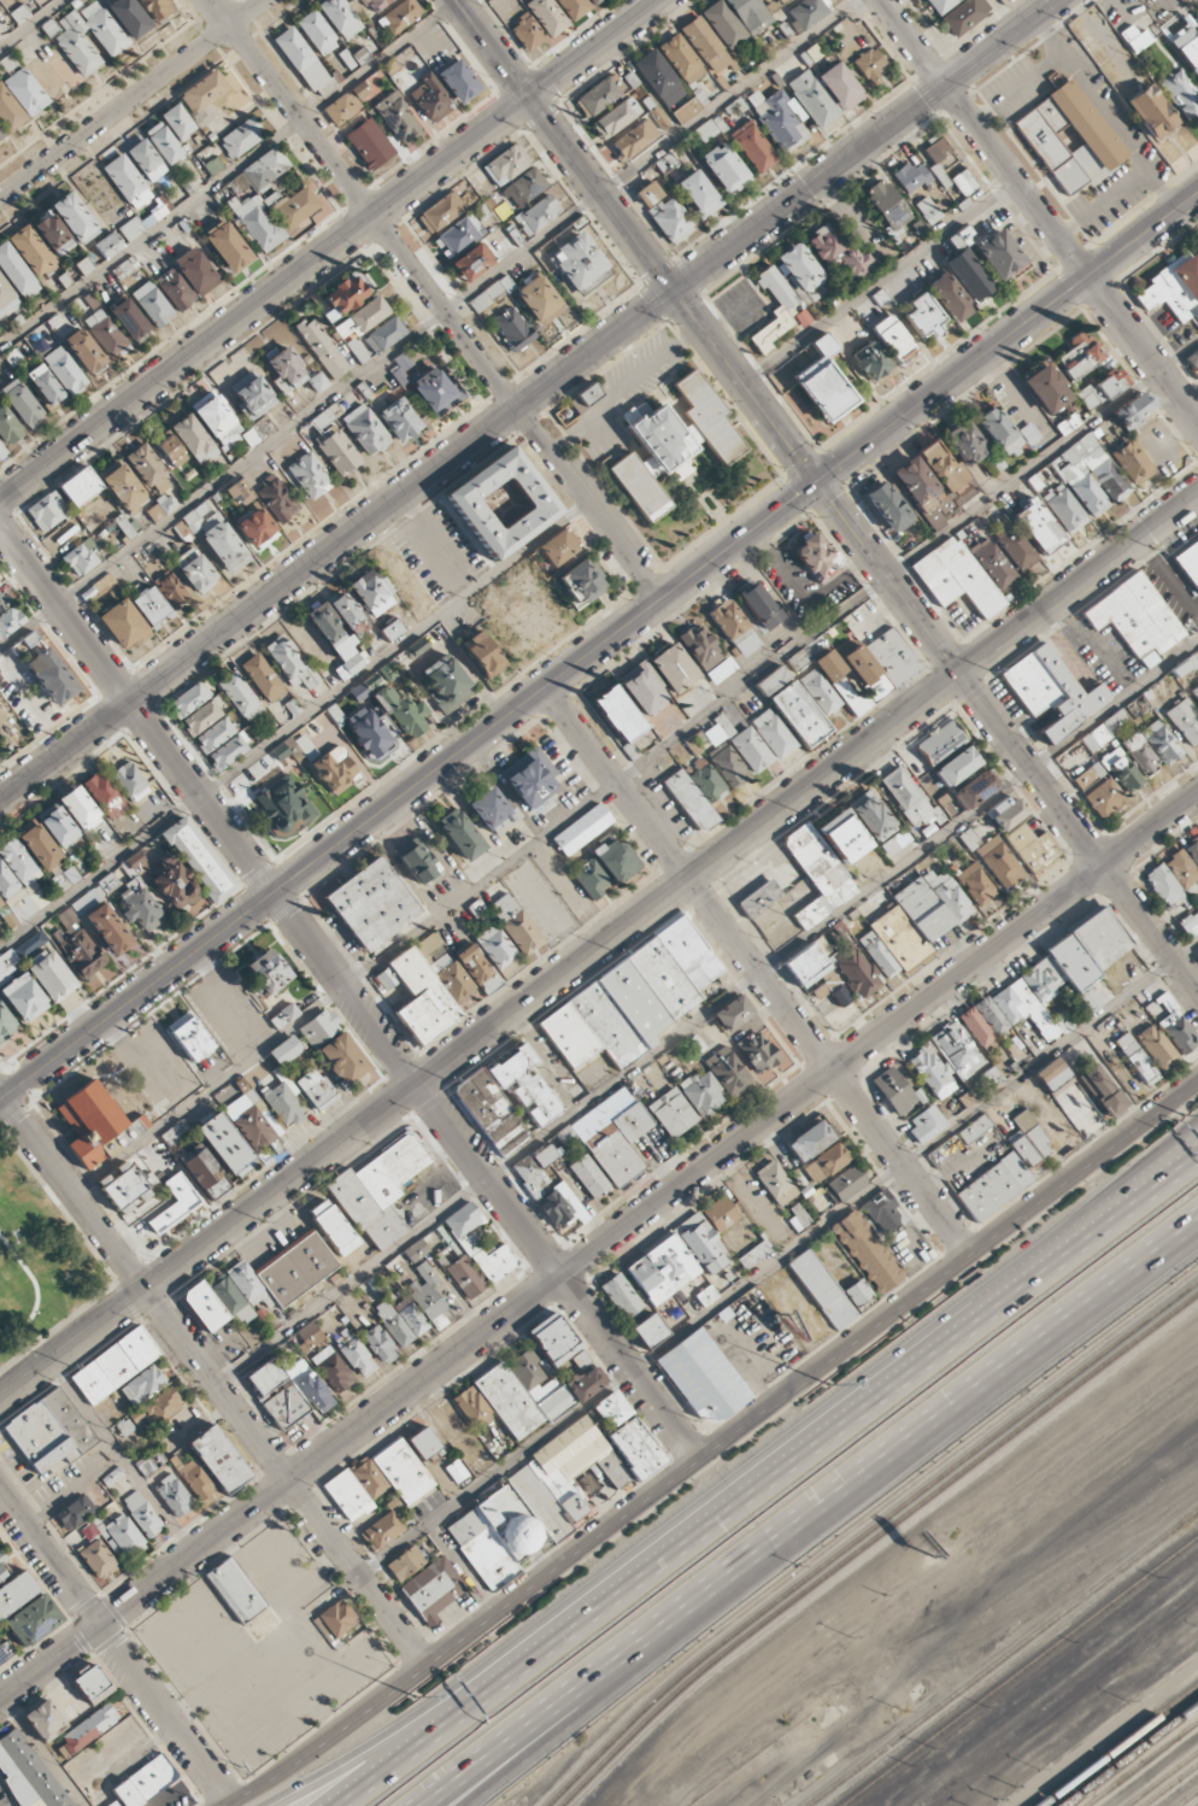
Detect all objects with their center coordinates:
building: (351, 0)
building: (785, 0)
building: (594, 1)
building: (375, 4)
building: (940, 5)
building: (574, 7)
building: (155, 8)
building: (809, 11)
building: (19, 13)
building: (748, 14)
building: (546, 16)
building: (964, 16)
building: (127, 17)
building: (340, 17)
building: (399, 17)
road: (31, 24)
building: (723, 24)
building: (49, 28)
building: (101, 28)
building: (317, 33)
building: (527, 33)
building: (1134, 39)
building: (75, 45)
building: (705, 45)
building: (1187, 45)
road: (494, 49)
building: (811, 53)
building: (360, 55)
building: (300, 58)
building: (681, 58)
building: (870, 63)
building: (659, 78)
building: (458, 81)
building: (840, 86)
building: (202, 92)
building: (1180, 93)
building: (600, 94)
building: (18, 98)
road: (131, 99)
building: (430, 99)
building: (812, 99)
building: (342, 109)
building: (686, 110)
building: (1151, 112)
building: (397, 118)
building: (616, 118)
building: (658, 118)
building: (779, 118)
building: (177, 122)
building: (709, 129)
building: (1, 135)
building: (240, 137)
building: (1069, 137)
building: (634, 139)
building: (369, 141)
building: (163, 142)
building: (753, 147)
building: (936, 149)
building: (146, 160)
building: (665, 163)
building: (506, 164)
building: (265, 169)
building: (724, 169)
road: (229, 174)
building: (911, 177)
building: (127, 181)
building: (963, 182)
building: (524, 187)
building: (647, 193)
building: (698, 193)
building: (888, 206)
building: (927, 210)
building: (299, 211)
building: (441, 211)
road: (1039, 211)
building: (538, 215)
building: (74, 217)
building: (145, 219)
building: (670, 219)
building: (256, 223)
building: (52, 233)
building: (458, 235)
building: (961, 238)
building: (108, 245)
building: (227, 246)
building: (31, 250)
road: (330, 250)
building: (838, 251)
building: (1196, 251)
building: (999, 254)
building: (471, 263)
building: (580, 263)
building: (84, 265)
building: (125, 268)
building: (798, 268)
building: (17, 271)
building: (195, 271)
building: (968, 274)
road: (880, 282)
building: (1174, 288)
building: (175, 289)
building: (491, 293)
building: (346, 294)
building: (949, 297)
building: (6, 298)
road: (436, 299)
building: (539, 299)
building: (152, 304)
building: (774, 309)
building: (923, 316)
building: (801, 317)
building: (363, 318)
building: (129, 319)
road: (429, 324)
building: (513, 329)
building: (105, 334)
building: (383, 335)
building: (892, 338)
building: (321, 347)
building: (84, 352)
building: (1079, 354)
building: (870, 360)
building: (1193, 360)
building: (400, 367)
building: (286, 369)
building: (64, 370)
building: (317, 382)
building: (823, 382)
building: (45, 386)
building: (1045, 388)
building: (1102, 389)
building: (436, 391)
building: (251, 394)
building: (588, 394)
road: (528, 400)
building: (22, 403)
building: (1133, 410)
building: (634, 412)
building: (324, 416)
building: (399, 420)
building: (216, 421)
building: (1068, 422)
building: (7, 427)
building: (365, 429)
building: (258, 432)
building: (998, 432)
building: (1029, 433)
building: (194, 439)
building: (965, 442)
building: (673, 444)
building: (171, 451)
building: (1, 452)
building: (337, 452)
building: (1132, 462)
building: (148, 468)
building: (310, 475)
building: (1090, 475)
building: (934, 480)
road: (816, 481)
traffic signals: (817, 482)
building: (80, 486)
building: (123, 487)
building: (239, 493)
building: (276, 499)
building: (501, 503)
building: (163, 506)
building: (887, 506)
building: (1064, 509)
building: (47, 511)
building: (124, 526)
building: (1038, 526)
building: (256, 528)
building: (223, 544)
building: (1014, 545)
building: (558, 547)
building: (82, 557)
building: (816, 558)
building: (992, 563)
building: (1188, 563)
building: (195, 570)
building: (956, 577)
building: (104, 582)
building: (581, 582)
building: (170, 587)
building: (372, 591)
building: (4, 602)
building: (759, 605)
building: (152, 608)
building: (348, 614)
building: (1135, 617)
building: (10, 621)
building: (124, 625)
building: (734, 628)
building: (392, 629)
building: (330, 631)
building: (28, 646)
building: (415, 647)
road: (599, 647)
building: (700, 647)
building: (482, 655)
building: (798, 659)
building: (290, 664)
building: (350, 665)
building: (1186, 665)
building: (674, 668)
building: (869, 669)
building: (721, 670)
building: (387, 672)
building: (52, 676)
building: (263, 678)
building: (771, 680)
building: (446, 682)
building: (365, 686)
building: (642, 690)
building: (820, 691)
building: (1051, 691)
building: (1194, 692)
building: (239, 696)
building: (188, 699)
building: (403, 711)
building: (334, 714)
building: (617, 714)
building: (799, 715)
building: (201, 717)
building: (1185, 721)
building: (1105, 729)
building: (773, 733)
building: (215, 734)
building: (371, 734)
building: (940, 741)
building: (1161, 741)
building: (740, 743)
building: (306, 746)
building: (228, 751)
building: (1139, 754)
building: (728, 766)
building: (957, 766)
road: (638, 769)
building: (1121, 770)
building: (336, 773)
building: (1088, 775)
building: (529, 778)
building: (243, 780)
building: (129, 781)
building: (975, 790)
building: (697, 793)
building: (105, 794)
building: (906, 798)
building: (1104, 798)
building: (283, 807)
building: (78, 808)
building: (492, 810)
building: (1008, 813)
building: (870, 816)
building: (58, 825)
building: (581, 829)
building: (459, 834)
building: (841, 835)
building: (894, 842)
building: (40, 846)
building: (1032, 848)
building: (1192, 849)
building: (199, 858)
building: (615, 860)
building: (19, 861)
building: (416, 861)
building: (998, 862)
building: (818, 864)
building: (1184, 872)
building: (66, 879)
building: (163, 879)
building: (591, 879)
building: (7, 883)
building: (975, 884)
building: (1167, 890)
building: (94, 893)
building: (759, 898)
building: (1, 903)
building: (371, 904)
building: (140, 908)
building: (476, 908)
building: (918, 917)
building: (799, 922)
building: (515, 923)
building: (1190, 923)
building: (108, 928)
road: (1150, 928)
building: (430, 943)
building: (77, 945)
building: (495, 946)
road: (599, 946)
building: (1197, 949)
building: (877, 955)
building: (1076, 960)
building: (8, 964)
building: (478, 968)
road: (757, 971)
building: (856, 971)
building: (268, 972)
building: (816, 973)
building: (51, 974)
road: (348, 992)
building: (427, 992)
building: (23, 997)
building: (632, 998)
road: (703, 1008)
building: (1022, 1008)
building: (732, 1013)
building: (283, 1016)
building: (1063, 1021)
building: (983, 1022)
building: (5, 1024)
building: (1171, 1024)
building: (318, 1027)
building: (189, 1037)
building: (1156, 1046)
building: (957, 1050)
building: (284, 1051)
building: (757, 1052)
building: (342, 1059)
building: (1135, 1059)
building: (728, 1072)
building: (932, 1072)
building: (987, 1078)
building: (524, 1085)
building: (315, 1089)
building: (893, 1090)
building: (1102, 1090)
building: (701, 1092)
building: (284, 1104)
building: (1074, 1104)
building: (491, 1113)
building: (673, 1113)
building: (93, 1124)
building: (926, 1125)
building: (256, 1127)
building: (974, 1128)
building: (175, 1132)
building: (565, 1136)
building: (811, 1139)
building: (1036, 1141)
building: (618, 1144)
building: (225, 1145)
building: (1023, 1149)
building: (826, 1162)
building: (535, 1169)
building: (204, 1172)
building: (588, 1175)
road: (1143, 1177)
building: (775, 1183)
building: (844, 1184)
building: (994, 1186)
building: (124, 1188)
building: (378, 1190)
building: (175, 1204)
building: (560, 1206)
building: (720, 1213)
building: (882, 1215)
building: (798, 1216)
building: (331, 1227)
building: (700, 1243)
building: (478, 1244)
road: (599, 1248)
building: (416, 1250)
building: (867, 1251)
road: (776, 1254)
building: (754, 1255)
park: (40, 1262)
building: (662, 1270)
building: (460, 1272)
building: (283, 1273)
building: (818, 1286)
road: (37, 1290)
building: (857, 1292)
building: (706, 1295)
building: (621, 1296)
building: (429, 1297)
road: (5, 1298)
building: (231, 1301)
building: (204, 1306)
building: (413, 1319)
building: (393, 1324)
building: (648, 1330)
building: (309, 1337)
building: (553, 1338)
building: (378, 1343)
building: (356, 1355)
building: (580, 1359)
building: (114, 1365)
building: (331, 1370)
building: (701, 1377)
road: (212, 1379)
building: (585, 1383)
road: (881, 1383)
building: (142, 1385)
building: (309, 1385)
building: (522, 1392)
building: (277, 1394)
road: (964, 1397)
building: (162, 1406)
building: (471, 1407)
building: (611, 1409)
building: (49, 1431)
building: (423, 1443)
road: (713, 1447)
building: (635, 1448)
building: (218, 1459)
building: (148, 1464)
building: (401, 1471)
building: (456, 1471)
building: (112, 1477)
building: (196, 1479)
building: (356, 1488)
building: (174, 1496)
building: (530, 1506)
building: (75, 1512)
building: (141, 1514)
building: (381, 1530)
railway: (862, 1530)
building: (122, 1536)
railway: (870, 1538)
building: (96, 1560)
building: (405, 1564)
building: (2, 1566)
building: (433, 1589)
building: (235, 1590)
building: (14, 1593)
building: (335, 1619)
building: (33, 1620)
road: (114, 1648)
building: (5, 1652)
railway: (1002, 1658)
railway: (1018, 1670)
building: (92, 1684)
road: (577, 1690)
road: (2, 1695)
road: (603, 1695)
road: (452, 1714)
road: (422, 1718)
building: (43, 1719)
building: (87, 1730)
railway: (1116, 1743)
railway: (1128, 1753)
railway: (1139, 1761)
building: (28, 1772)
railway: (1158, 1776)
building: (143, 1783)
railway: (1169, 1784)
railway: (1184, 1795)
railway: (1197, 1805)

